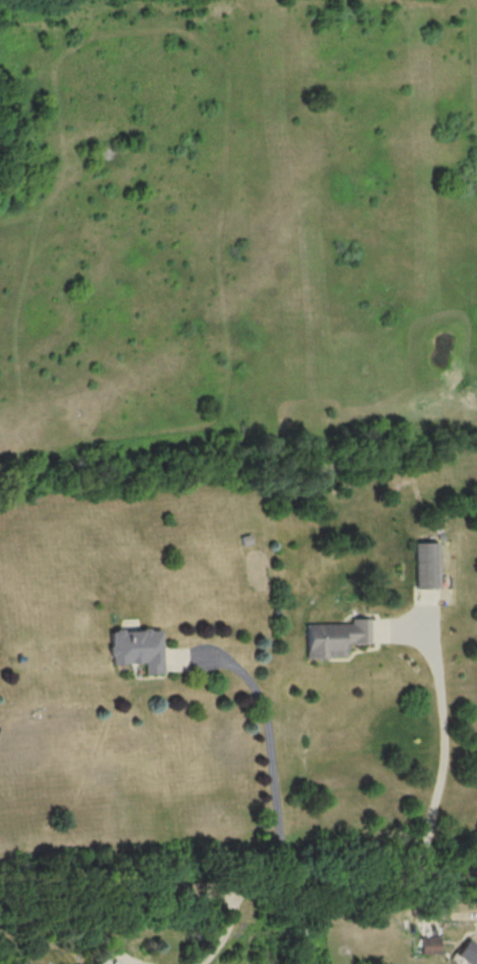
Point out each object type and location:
building: (426, 565)
building: (335, 637)
building: (138, 648)
road: (271, 740)
road: (444, 759)
road: (238, 890)
road: (437, 913)
road: (227, 930)
building: (429, 944)
building: (467, 951)
building: (103, 961)
building: (115, 962)
road: (138, 963)

